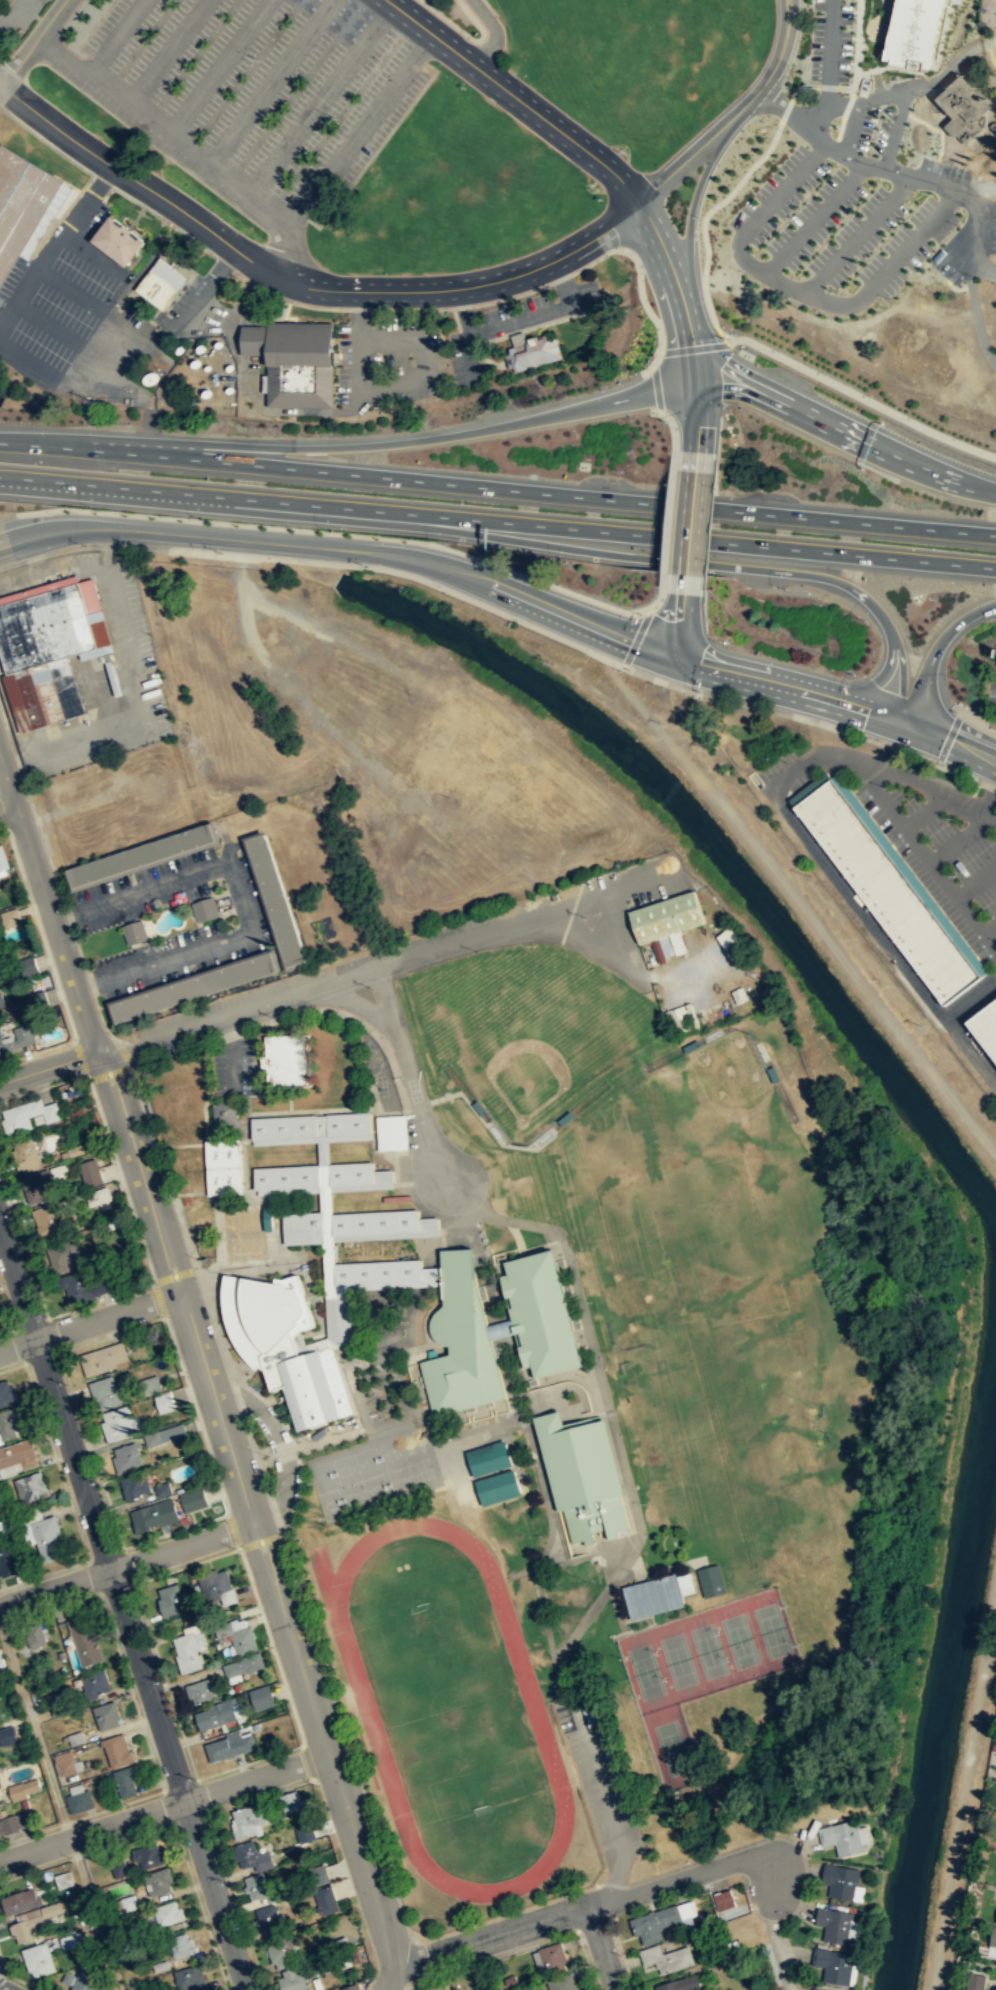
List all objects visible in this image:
road: (15, 17)
parking lot: (17, 22)
building: (909, 31)
road: (494, 33)
road: (116, 39)
road: (32, 42)
park: (986, 43)
street lamp: (808, 44)
road: (856, 50)
road: (829, 53)
road: (961, 53)
road: (165, 54)
road: (216, 69)
road: (770, 73)
road: (268, 84)
road: (0, 85)
road: (801, 85)
road: (828, 86)
parking lot: (256, 96)
road: (515, 97)
road: (870, 98)
road: (318, 101)
road: (784, 109)
building: (960, 109)
street lamp: (787, 131)
road: (357, 132)
road: (43, 140)
road: (177, 147)
road: (678, 164)
road: (899, 170)
street lamp: (769, 171)
road: (134, 178)
road: (100, 180)
street lamp: (816, 185)
road: (783, 188)
street lamp: (915, 190)
park: (452, 191)
street lamp: (857, 204)
building: (25, 205)
road: (690, 211)
road: (156, 215)
street lamp: (700, 217)
road: (814, 217)
street lamp: (725, 218)
road: (703, 221)
street lamp: (899, 222)
street lamp: (957, 224)
parking lot: (830, 234)
road: (856, 234)
road: (911, 236)
street lamp: (770, 237)
building: (118, 240)
road: (53, 242)
road: (185, 251)
street lamp: (812, 254)
street lamp: (928, 257)
road: (976, 259)
parking lot: (966, 260)
road: (224, 263)
road: (110, 267)
street lamp: (738, 269)
street lamp: (855, 271)
road: (672, 272)
street lamp: (239, 279)
building: (161, 283)
road: (463, 286)
street lamp: (550, 287)
road: (791, 288)
street lamp: (888, 298)
road: (87, 299)
road: (494, 300)
road: (244, 301)
street lamp: (814, 308)
road: (544, 311)
parking lot: (99, 313)
street lamp: (443, 314)
road: (512, 318)
road: (977, 319)
parking lot: (509, 323)
road: (535, 325)
road: (469, 332)
road: (118, 334)
road: (64, 335)
street lamp: (726, 337)
building: (531, 351)
street lamp: (780, 351)
road: (132, 356)
building: (294, 360)
road: (492, 362)
parking lot: (364, 366)
road: (695, 368)
road: (647, 370)
street lamp: (825, 374)
road: (740, 376)
road: (390, 385)
road: (656, 387)
street lamp: (601, 389)
traffic signals: (698, 389)
road: (743, 393)
street lamp: (870, 396)
road: (863, 397)
road: (285, 410)
street lamp: (915, 418)
road: (697, 419)
road: (673, 436)
street lamp: (960, 439)
road: (418, 440)
road: (68, 447)
road: (890, 453)
road: (695, 460)
road: (101, 490)
road: (566, 493)
road: (667, 519)
road: (689, 521)
road: (116, 528)
road: (599, 531)
road: (328, 532)
street lamp: (129, 544)
road: (597, 552)
street lamp: (221, 553)
road: (319, 562)
street lamp: (367, 565)
road: (461, 572)
road: (683, 583)
road: (660, 592)
road: (679, 625)
road: (635, 638)
road: (934, 650)
building: (43, 654)
traffic signals: (676, 657)
road: (773, 684)
road: (780, 711)
road: (886, 716)
traffic signals: (902, 722)
road: (977, 722)
road: (948, 737)
road: (949, 739)
road: (828, 754)
road: (905, 767)
road: (958, 772)
road: (785, 776)
road: (920, 783)
road: (987, 785)
road: (975, 787)
road: (990, 800)
road: (7, 810)
road: (925, 811)
road: (990, 816)
road: (3, 820)
road: (959, 839)
building: (141, 855)
road: (925, 855)
building: (3, 859)
parking lot: (174, 864)
road: (140, 867)
road: (53, 872)
road: (977, 882)
road: (914, 883)
parking lot: (102, 887)
building: (885, 891)
road: (792, 892)
parking lot: (255, 896)
road: (239, 897)
building: (276, 900)
parking lot: (147, 905)
road: (48, 909)
building: (204, 909)
building: (10, 917)
building: (665, 923)
road: (990, 928)
road: (39, 931)
building: (134, 931)
road: (881, 938)
street lamp: (78, 943)
parking lot: (158, 944)
building: (25, 964)
road: (363, 971)
road: (182, 979)
building: (0, 981)
building: (195, 987)
building: (740, 994)
road: (970, 999)
building: (37, 1000)
building: (1, 1001)
road: (295, 1011)
building: (683, 1018)
road: (294, 1021)
building: (985, 1027)
park: (529, 1028)
building: (18, 1037)
road: (36, 1051)
road: (229, 1051)
road: (123, 1052)
building: (288, 1057)
road: (80, 1059)
road: (253, 1060)
road: (50, 1065)
street lamp: (82, 1072)
road: (111, 1073)
road: (408, 1077)
road: (42, 1087)
road: (206, 1092)
road: (280, 1093)
road: (140, 1105)
road: (418, 1105)
road: (352, 1107)
building: (477, 1107)
building: (226, 1110)
road: (390, 1111)
road: (247, 1113)
building: (27, 1115)
building: (562, 1117)
road: (490, 1120)
building: (349, 1121)
building: (285, 1124)
building: (392, 1130)
road: (310, 1136)
road: (244, 1140)
road: (178, 1144)
road: (204, 1149)
building: (72, 1151)
building: (26, 1154)
road: (323, 1161)
building: (223, 1165)
road: (242, 1165)
building: (352, 1170)
building: (90, 1172)
building: (287, 1174)
road: (120, 1181)
road: (360, 1184)
building: (36, 1186)
road: (284, 1188)
building: (97, 1196)
park: (694, 1197)
street lamp: (10, 1213)
road: (177, 1213)
building: (53, 1216)
building: (247, 1216)
building: (375, 1219)
road: (216, 1220)
building: (304, 1225)
road: (393, 1232)
road: (327, 1235)
road: (23, 1245)
building: (244, 1246)
building: (62, 1255)
building: (378, 1269)
road: (174, 1275)
road: (369, 1284)
building: (86, 1285)
road: (100, 1299)
road: (158, 1299)
road: (6, 1308)
building: (536, 1313)
street lamp: (44, 1315)
building: (342, 1318)
road: (30, 1323)
road: (90, 1323)
road: (6, 1331)
road: (52, 1334)
road: (111, 1334)
building: (279, 1341)
building: (458, 1342)
road: (18, 1345)
road: (41, 1356)
building: (102, 1358)
road: (12, 1366)
building: (150, 1384)
building: (103, 1392)
building: (6, 1393)
building: (163, 1401)
road: (196, 1415)
road: (609, 1415)
building: (9, 1422)
building: (116, 1423)
building: (163, 1434)
road: (89, 1450)
park: (402, 1451)
building: (18, 1454)
building: (126, 1457)
road: (55, 1460)
park: (356, 1466)
building: (578, 1475)
park: (323, 1477)
park: (411, 1477)
street lamp: (95, 1484)
building: (134, 1485)
building: (30, 1487)
building: (162, 1488)
park: (365, 1493)
building: (192, 1499)
park: (331, 1504)
building: (154, 1515)
road: (254, 1520)
road: (232, 1530)
road: (174, 1531)
building: (0, 1535)
building: (48, 1539)
road: (259, 1541)
road: (104, 1554)
building: (8, 1561)
road: (127, 1563)
road: (185, 1564)
road: (127, 1565)
road: (43, 1573)
road: (93, 1576)
track: (324, 1577)
building: (711, 1579)
building: (214, 1582)
street lamp: (131, 1585)
road: (116, 1587)
building: (653, 1595)
building: (172, 1600)
road: (301, 1600)
road: (50, 1609)
road: (123, 1609)
park: (771, 1629)
building: (34, 1635)
building: (238, 1636)
park: (738, 1640)
building: (84, 1642)
road: (270, 1645)
park: (708, 1650)
building: (186, 1651)
park: (677, 1660)
building: (243, 1664)
building: (2, 1668)
park: (644, 1671)
road: (164, 1680)
street lamp: (161, 1681)
building: (94, 1683)
building: (201, 1690)
road: (130, 1691)
building: (261, 1696)
building: (55, 1702)
track: (448, 1707)
park: (449, 1707)
building: (215, 1714)
building: (105, 1715)
building: (10, 1731)
building: (76, 1738)
building: (228, 1747)
park: (672, 1747)
building: (116, 1750)
road: (248, 1761)
road: (307, 1761)
building: (64, 1763)
parking lot: (596, 1767)
road: (597, 1770)
street lamp: (193, 1778)
building: (125, 1780)
road: (178, 1784)
building: (23, 1788)
road: (963, 1789)
road: (202, 1795)
road: (260, 1795)
building: (0, 1797)
building: (79, 1801)
building: (289, 1801)
road: (167, 1806)
road: (60, 1807)
road: (164, 1808)
road: (81, 1816)
road: (190, 1818)
building: (247, 1819)
building: (11, 1823)
building: (305, 1833)
building: (842, 1837)
road: (86, 1852)
building: (148, 1855)
building: (251, 1855)
building: (118, 1869)
road: (615, 1873)
building: (316, 1874)
building: (63, 1879)
building: (840, 1880)
building: (158, 1881)
street lamp: (227, 1881)
building: (264, 1888)
building: (325, 1899)
building: (724, 1899)
building: (20, 1900)
building: (129, 1901)
road: (236, 1901)
road: (200, 1906)
road: (591, 1906)
building: (51, 1908)
building: (168, 1913)
building: (269, 1919)
building: (995, 1920)
building: (655, 1923)
building: (834, 1923)
building: (27, 1927)
building: (992, 1936)
building: (71, 1940)
building: (181, 1945)
road: (602, 1948)
building: (280, 1952)
building: (667, 1957)
building: (550, 1958)
building: (38, 1959)
road: (409, 1962)
road: (2, 1965)
building: (833, 1965)
road: (2, 1971)
road: (2, 1974)
building: (67, 1977)
building: (190, 1978)
street lamp: (258, 1978)
building: (293, 1980)
road: (22, 1981)
building: (87, 1981)
building: (974, 1981)
building: (562, 1982)
building: (681, 1983)
building: (350, 1987)
road: (404, 1988)
building: (443, 1988)
building: (332, 1989)
building: (815, 1989)

